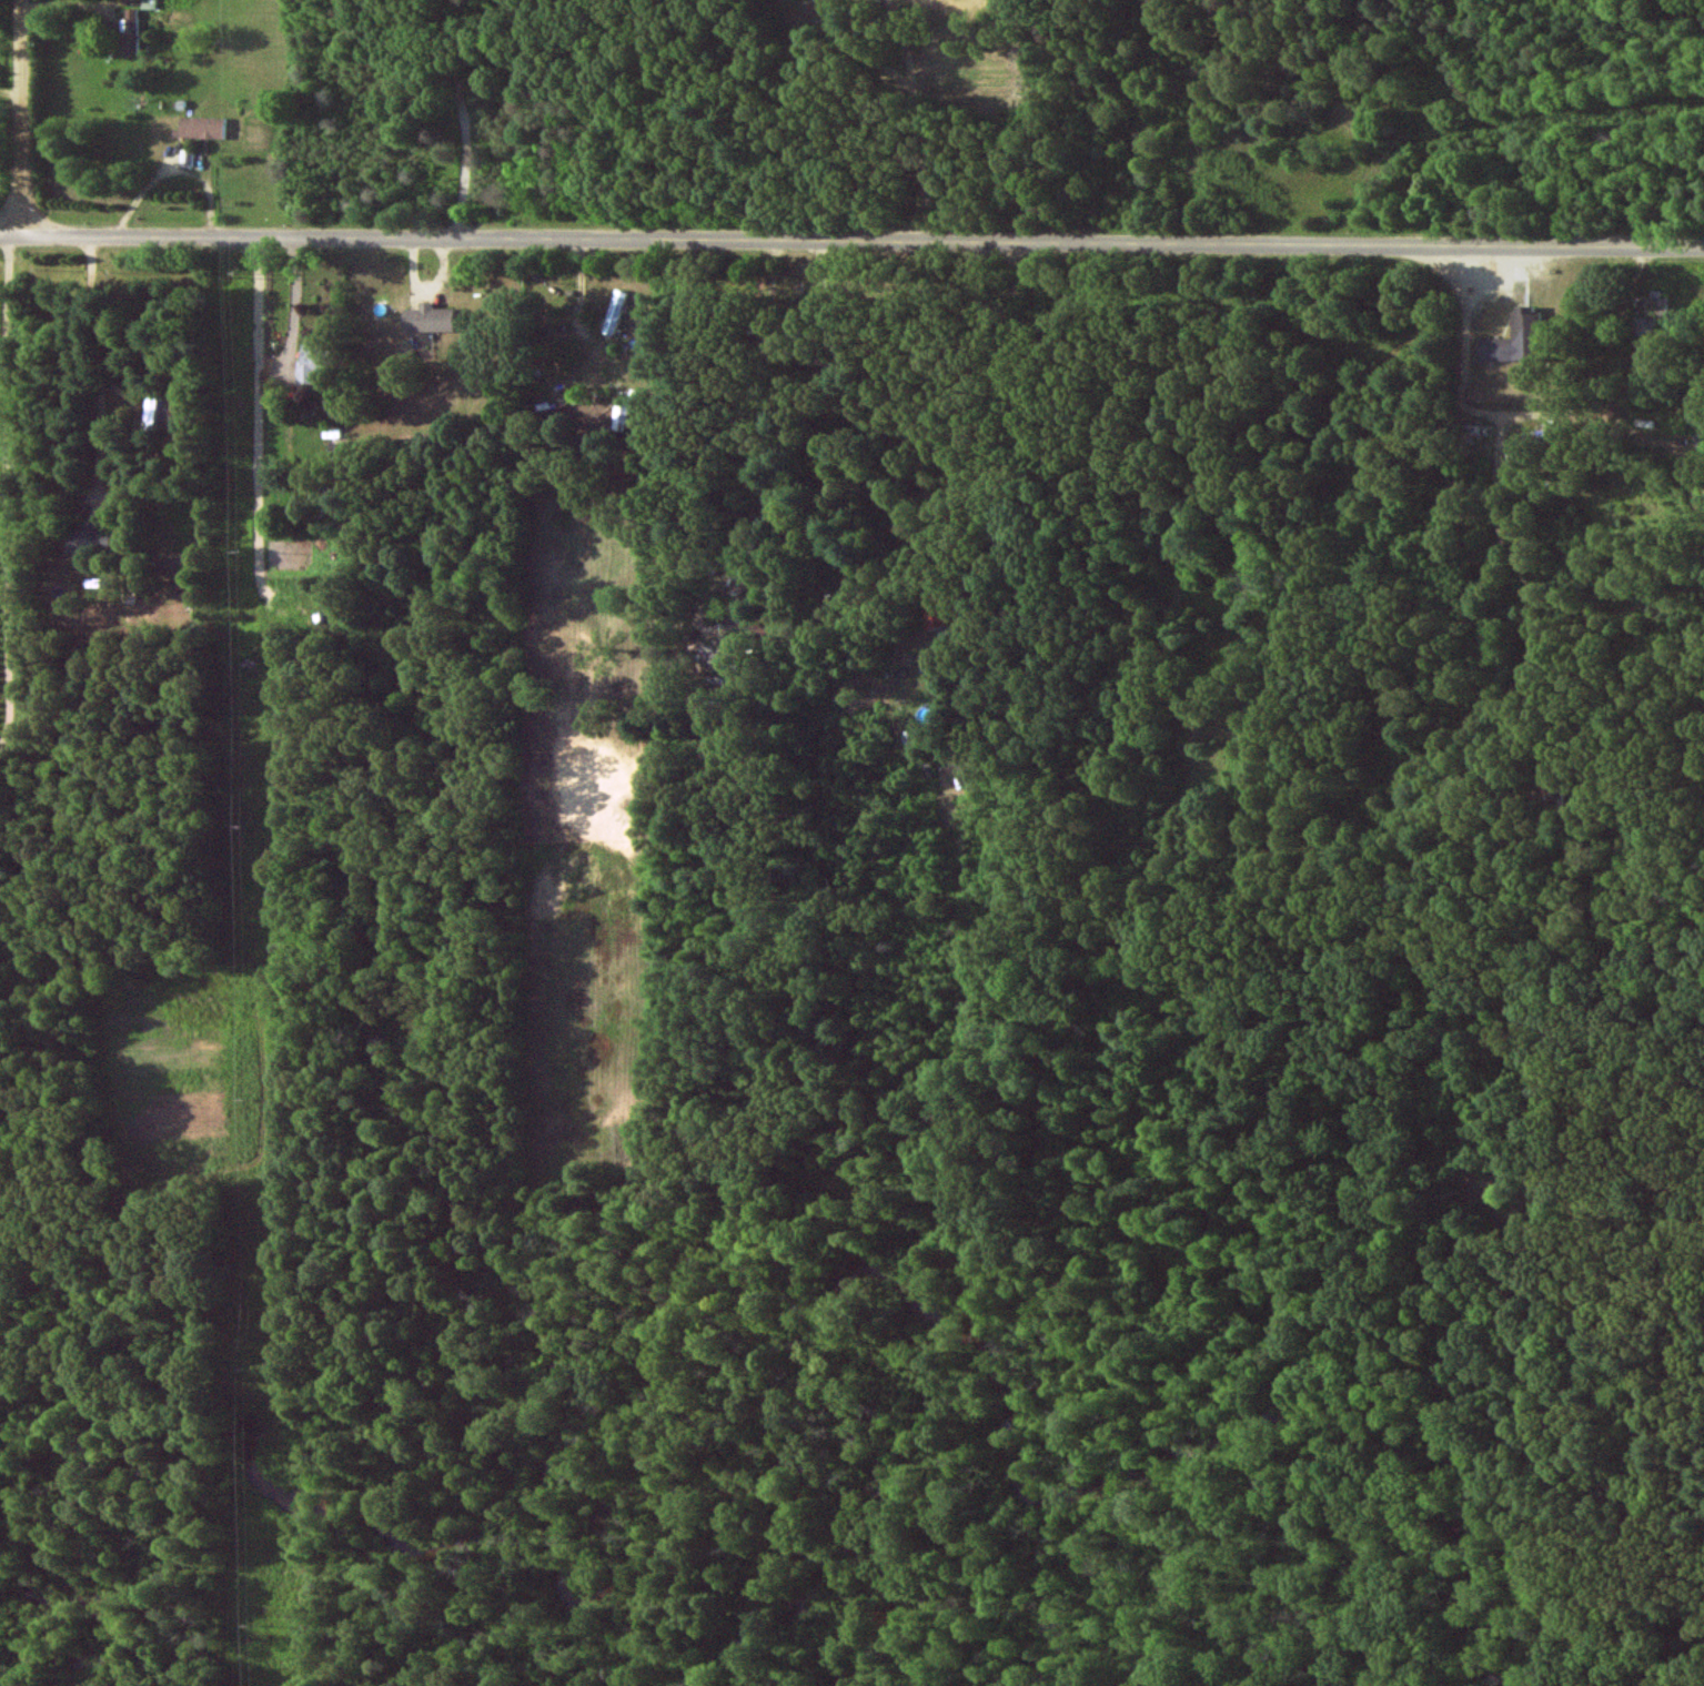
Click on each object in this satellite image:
building: (129, 33)
road: (11, 93)
road: (23, 119)
road: (464, 121)
road: (1421, 124)
building: (200, 128)
road: (851, 244)
building: (612, 314)
building: (1651, 316)
building: (425, 320)
building: (1513, 341)
road: (93, 364)
building: (307, 364)
road: (756, 404)
building: (619, 418)
road: (979, 446)
building: (89, 538)

